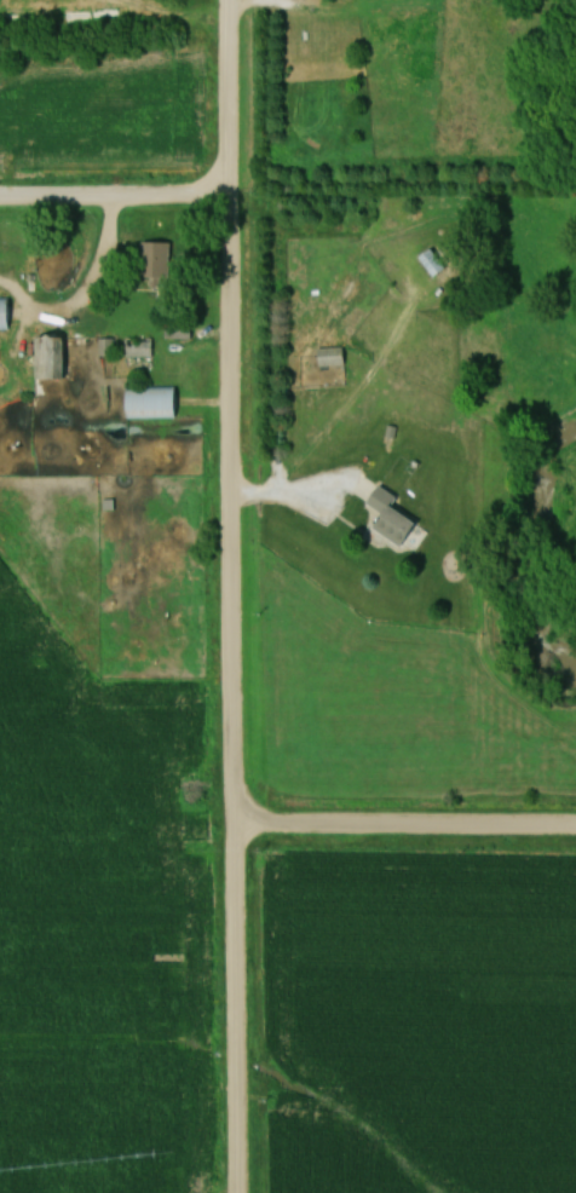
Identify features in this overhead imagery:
road: (114, 200)
building: (157, 257)
building: (436, 264)
road: (79, 289)
building: (6, 315)
building: (140, 346)
building: (52, 356)
building: (333, 357)
building: (152, 405)
building: (394, 517)
river: (530, 572)
road: (226, 596)
road: (401, 828)

